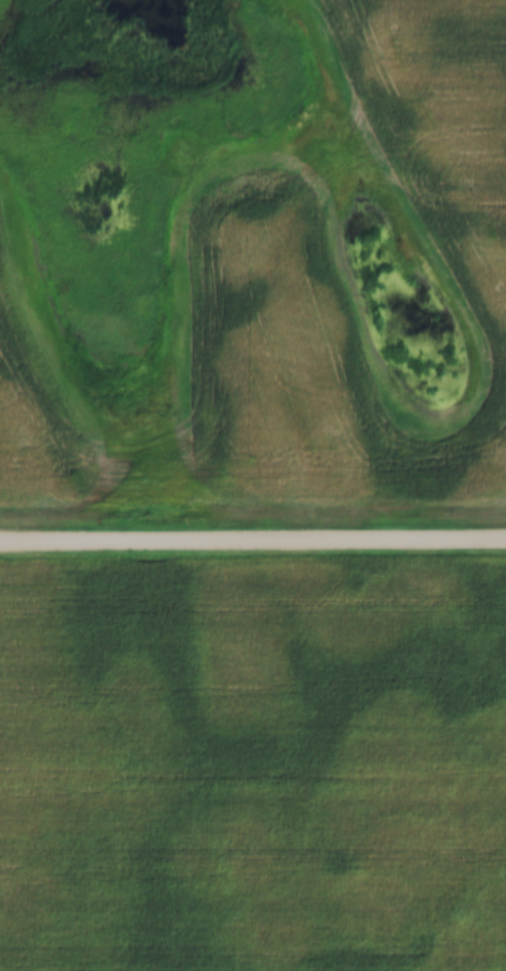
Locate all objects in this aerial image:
road: (253, 544)

